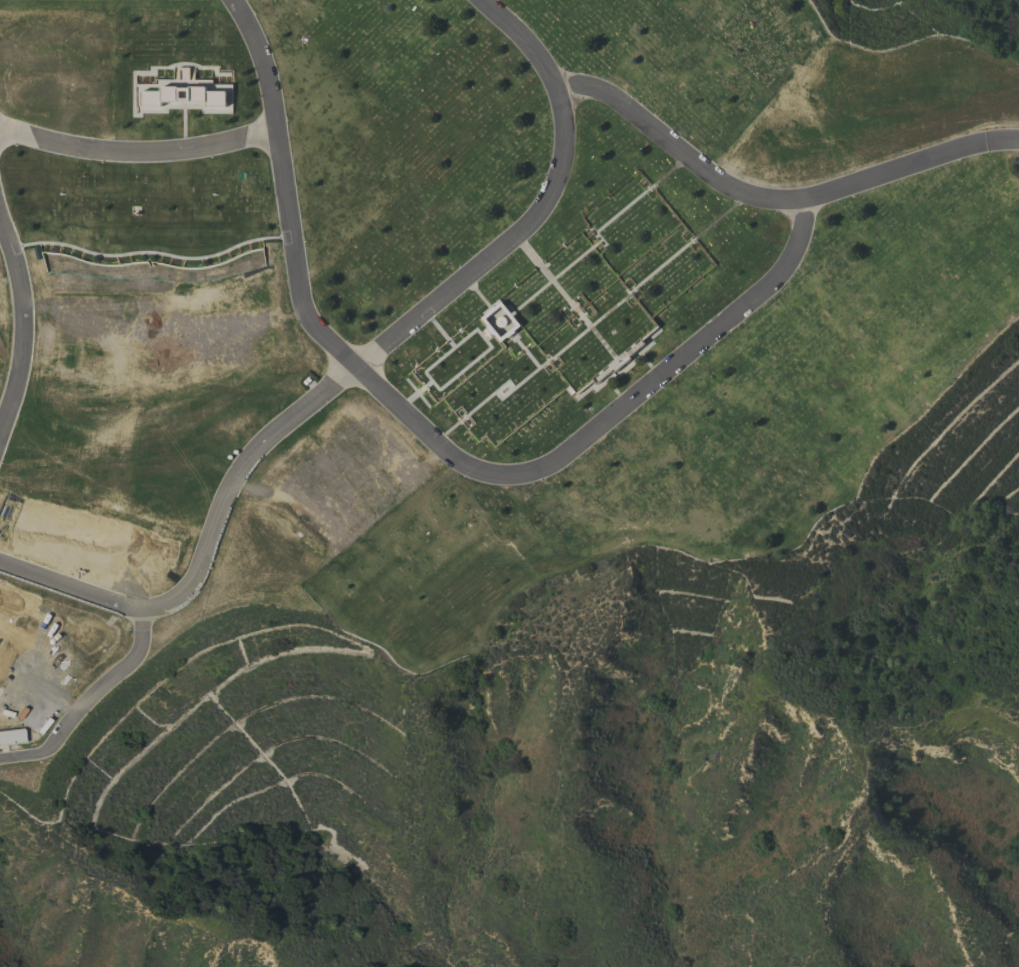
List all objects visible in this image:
building: (183, 95)
road: (138, 146)
road: (774, 202)
building: (154, 212)
park: (449, 313)
road: (24, 321)
building: (486, 321)
road: (359, 369)
road: (432, 443)
road: (84, 697)
building: (11, 736)

